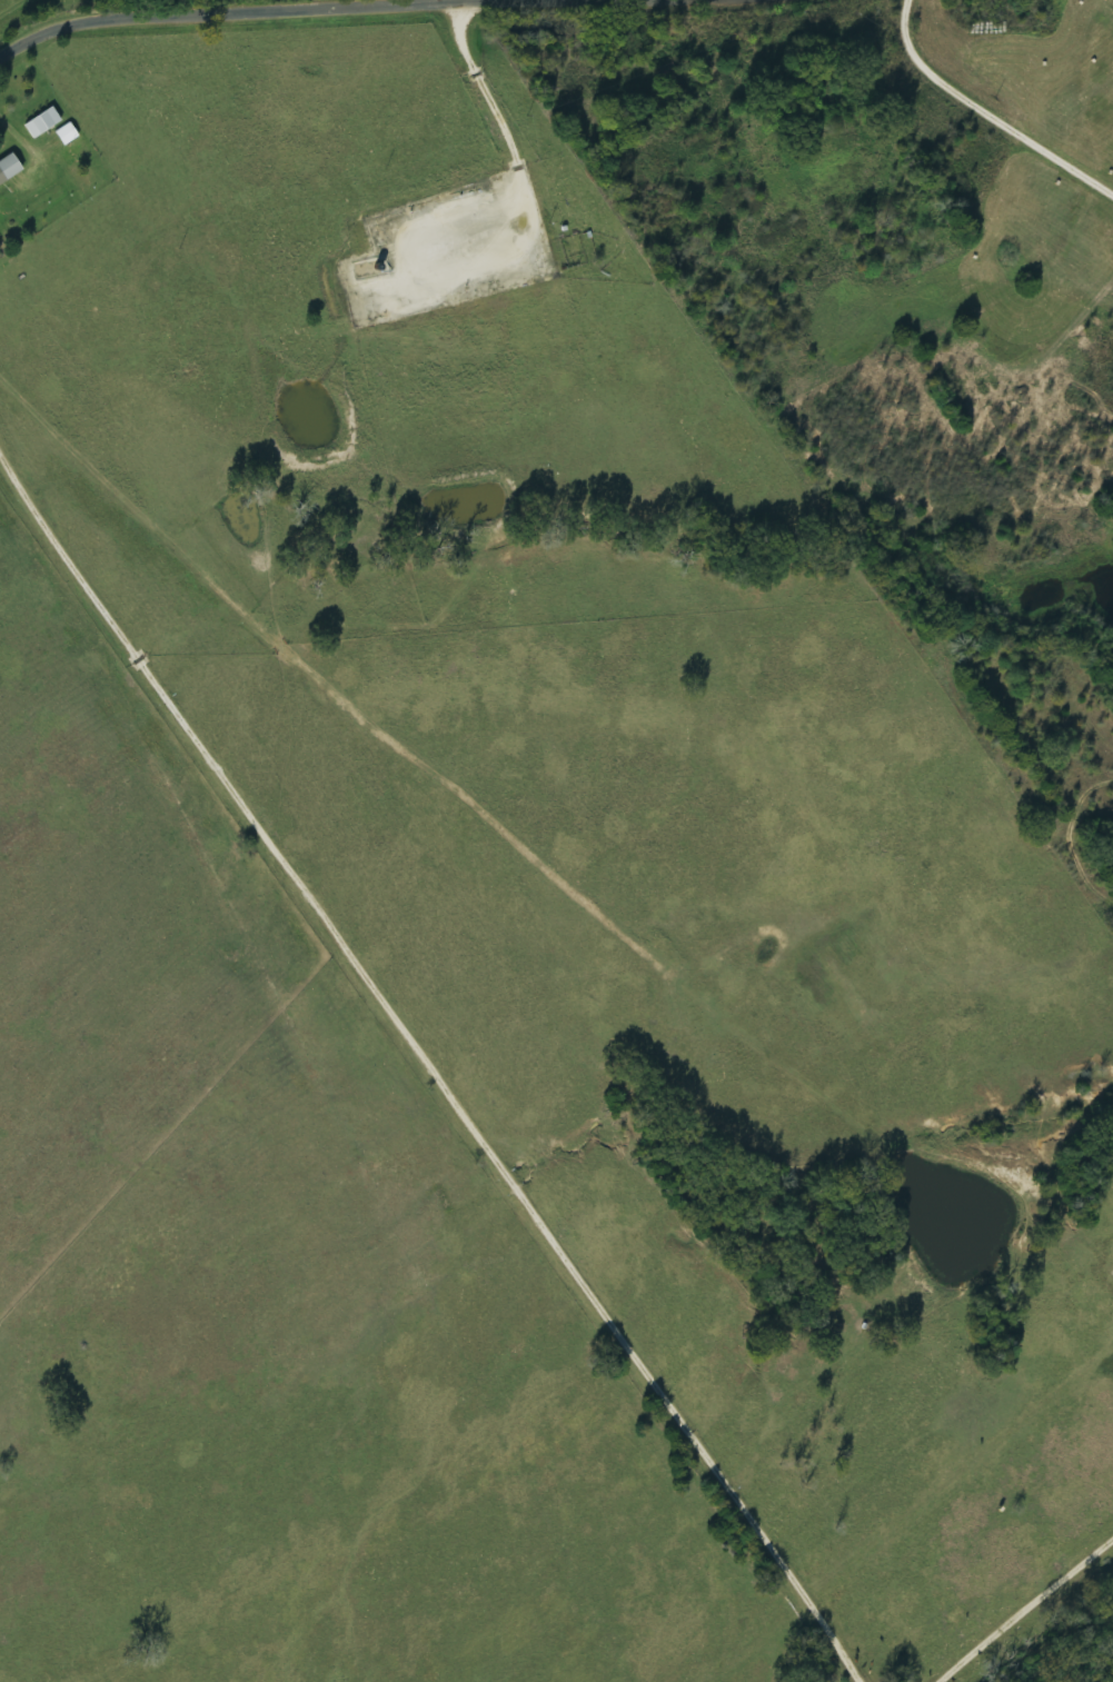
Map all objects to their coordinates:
road: (332, 8)
building: (42, 123)
building: (67, 136)
building: (8, 169)
road: (524, 979)

